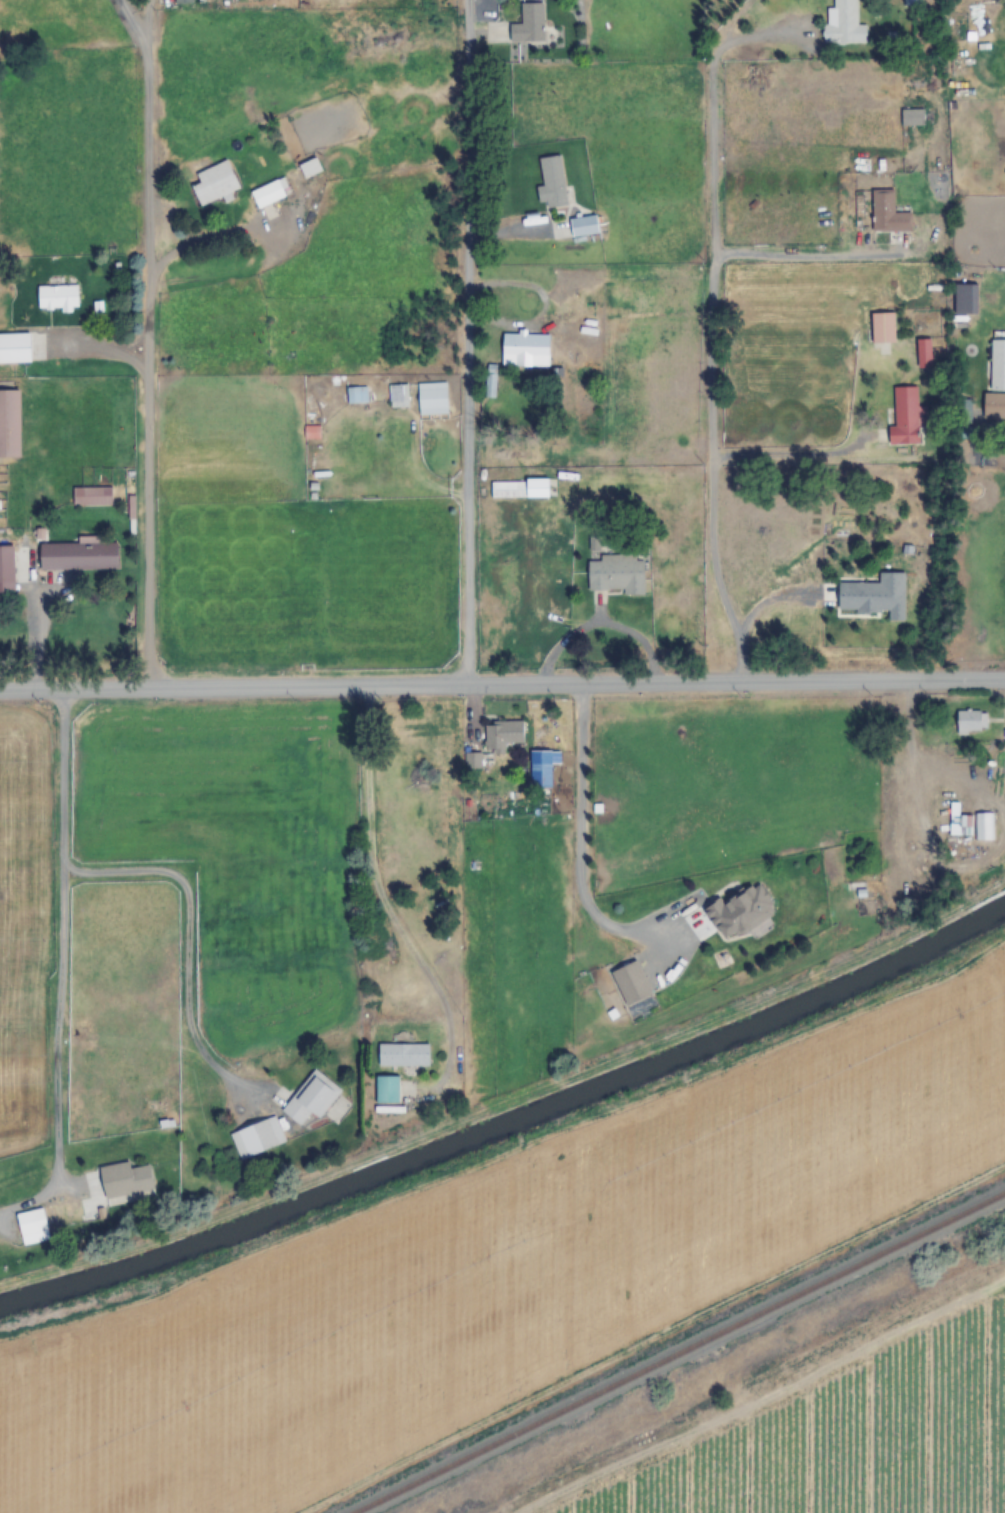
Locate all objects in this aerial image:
building: (911, 3)
building: (528, 25)
building: (843, 25)
road: (707, 80)
building: (911, 118)
building: (309, 168)
building: (551, 183)
building: (215, 184)
building: (270, 193)
building: (887, 213)
building: (583, 227)
road: (783, 255)
building: (57, 298)
building: (962, 309)
building: (883, 329)
road: (149, 340)
road: (466, 343)
building: (15, 349)
building: (525, 349)
building: (924, 354)
building: (996, 381)
building: (356, 395)
building: (393, 397)
building: (431, 399)
building: (906, 417)
road: (712, 429)
road: (787, 457)
building: (25, 488)
building: (519, 489)
building: (95, 501)
building: (79, 556)
building: (6, 569)
building: (616, 574)
building: (875, 595)
road: (748, 611)
road: (31, 622)
road: (502, 686)
building: (970, 722)
building: (503, 734)
building: (960, 826)
road: (581, 846)
building: (740, 912)
road: (62, 936)
building: (633, 981)
building: (403, 1055)
building: (386, 1090)
building: (311, 1098)
building: (256, 1138)
building: (125, 1178)
building: (32, 1226)
crop: (500, 1268)
railway: (680, 1352)

